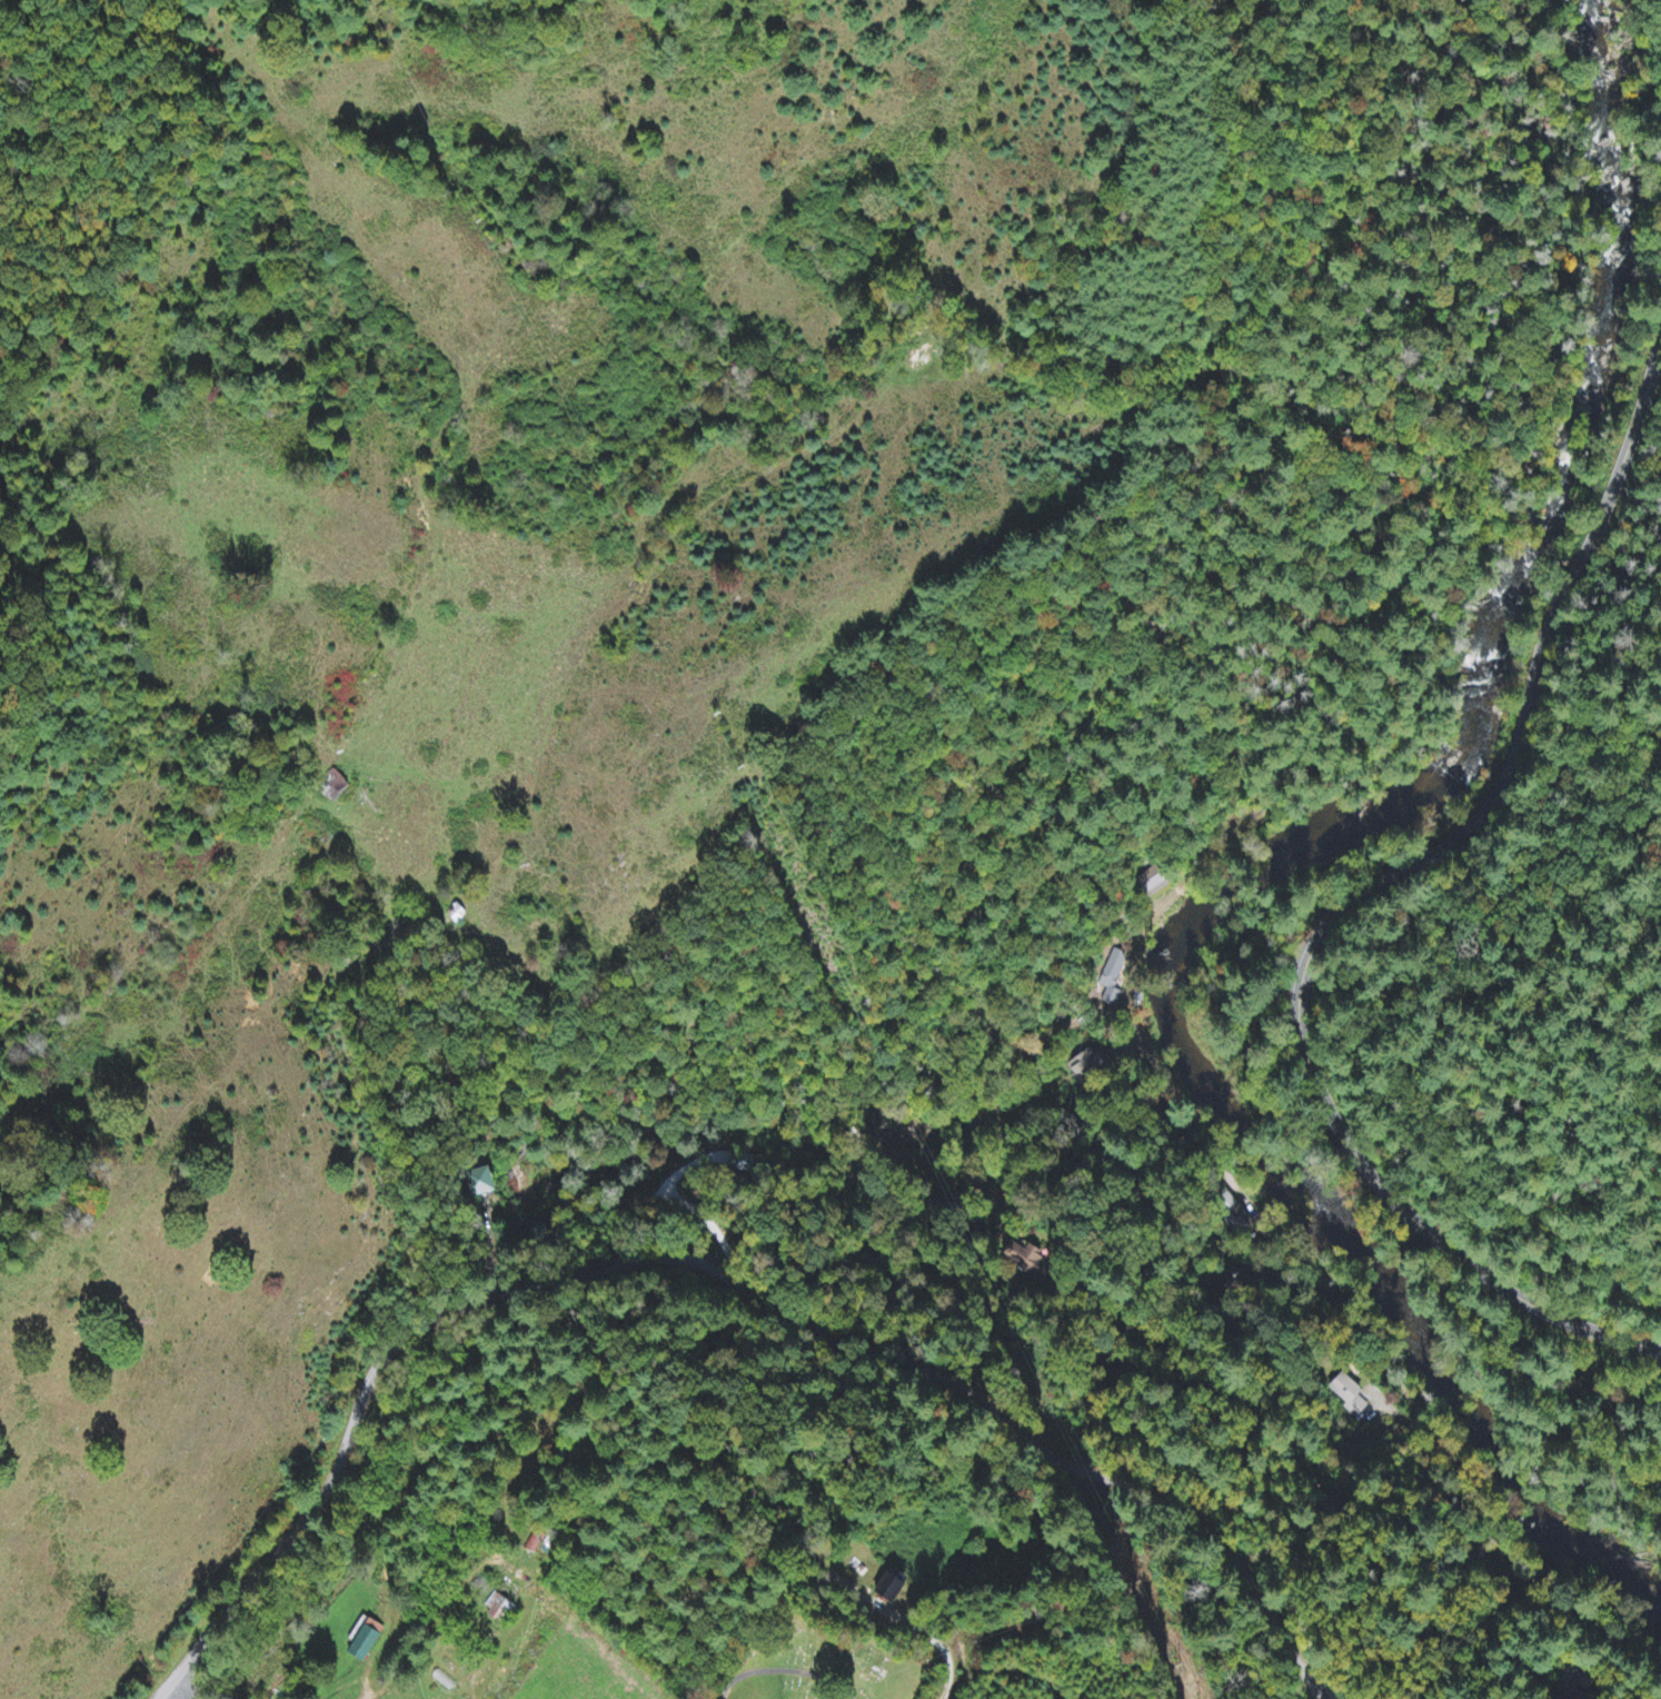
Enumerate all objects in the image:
river: (1474, 636)
road: (1373, 887)
road: (1131, 967)
building: (1112, 978)
road: (1200, 1132)
building: (479, 1184)
road: (494, 1250)
building: (1018, 1258)
road: (516, 1290)
river: (1429, 1368)
road: (974, 1394)
building: (1347, 1394)
road: (1416, 1423)
road: (334, 1479)
building: (888, 1591)
building: (361, 1642)
park: (815, 1661)
road: (783, 1675)
road: (165, 1693)
road: (175, 1693)

